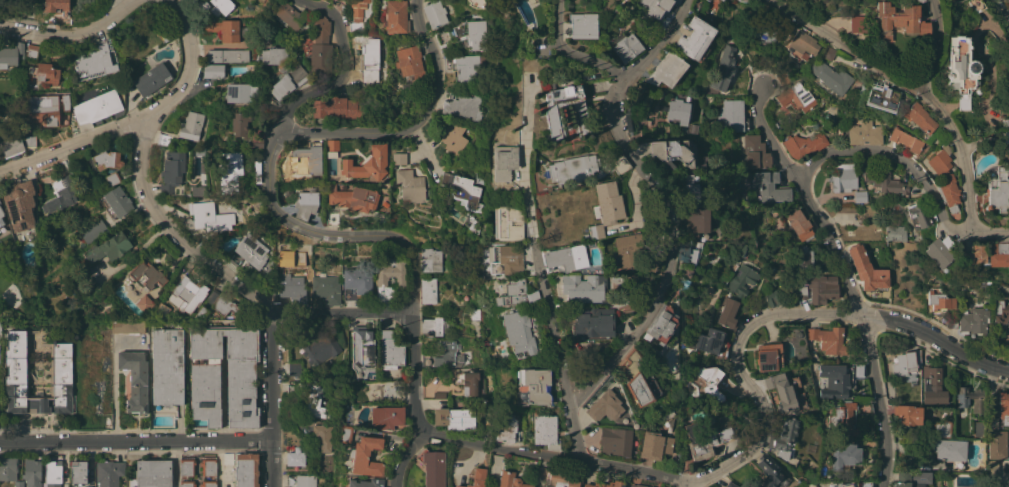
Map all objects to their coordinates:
building: (708, 0)
building: (722, 0)
building: (920, 0)
building: (1007, 0)
building: (189, 1)
building: (222, 5)
building: (976, 5)
road: (119, 6)
building: (655, 7)
building: (55, 10)
road: (1001, 10)
building: (435, 13)
building: (357, 14)
building: (291, 15)
building: (396, 16)
building: (899, 20)
building: (582, 25)
building: (855, 25)
building: (223, 29)
building: (457, 30)
building: (249, 32)
building: (477, 34)
road: (72, 35)
building: (695, 38)
building: (801, 44)
road: (935, 45)
building: (318, 46)
building: (626, 47)
building: (31, 51)
road: (571, 52)
building: (828, 53)
building: (228, 55)
building: (12, 56)
building: (95, 60)
building: (409, 63)
building: (464, 67)
building: (724, 68)
building: (213, 70)
building: (667, 70)
building: (961, 70)
building: (282, 71)
building: (44, 73)
building: (831, 77)
building: (783, 78)
building: (151, 79)
road: (915, 87)
building: (240, 92)
building: (796, 96)
building: (882, 97)
building: (462, 106)
building: (97, 107)
building: (45, 108)
building: (338, 108)
building: (677, 108)
building: (553, 115)
building: (732, 115)
building: (919, 118)
building: (1005, 123)
road: (413, 124)
building: (191, 125)
building: (244, 129)
building: (693, 129)
road: (766, 133)
building: (864, 133)
building: (1005, 136)
building: (453, 137)
building: (30, 140)
building: (164, 140)
building: (906, 140)
road: (74, 142)
building: (804, 144)
building: (11, 146)
building: (332, 146)
building: (674, 152)
building: (753, 153)
road: (899, 157)
building: (399, 158)
building: (306, 159)
building: (105, 160)
building: (504, 162)
building: (367, 163)
road: (523, 164)
building: (619, 164)
building: (71, 165)
building: (173, 168)
building: (229, 169)
building: (256, 170)
building: (570, 170)
building: (843, 177)
building: (944, 177)
building: (112, 178)
building: (882, 181)
building: (410, 185)
building: (769, 186)
building: (689, 188)
building: (998, 190)
building: (287, 191)
building: (462, 191)
building: (61, 196)
building: (860, 196)
building: (352, 198)
road: (662, 199)
building: (115, 202)
building: (305, 204)
building: (19, 205)
building: (605, 207)
building: (918, 213)
building: (1, 215)
building: (871, 216)
building: (205, 217)
building: (39, 218)
building: (331, 218)
building: (694, 222)
building: (508, 223)
building: (799, 225)
building: (474, 226)
road: (299, 227)
building: (93, 230)
road: (174, 233)
building: (895, 233)
road: (990, 233)
building: (874, 236)
building: (109, 248)
building: (628, 251)
building: (940, 251)
building: (248, 253)
building: (686, 254)
building: (997, 255)
building: (566, 257)
building: (973, 257)
building: (802, 258)
building: (431, 259)
building: (504, 259)
building: (867, 269)
building: (146, 275)
building: (389, 276)
building: (741, 280)
building: (357, 284)
building: (326, 288)
building: (583, 288)
building: (822, 288)
building: (293, 289)
building: (428, 290)
building: (802, 292)
building: (518, 293)
building: (188, 294)
building: (772, 297)
building: (939, 301)
building: (142, 303)
building: (223, 305)
building: (161, 310)
building: (146, 311)
building: (1000, 312)
building: (200, 313)
building: (728, 313)
building: (474, 314)
building: (954, 321)
building: (974, 321)
building: (591, 323)
road: (862, 324)
building: (434, 326)
building: (660, 326)
building: (0, 327)
building: (128, 327)
building: (519, 333)
road: (936, 338)
building: (703, 339)
building: (828, 339)
building: (95, 345)
building: (361, 347)
building: (321, 348)
building: (390, 350)
road: (562, 355)
building: (445, 356)
building: (769, 357)
building: (905, 363)
building: (167, 366)
building: (294, 369)
road: (741, 369)
building: (858, 370)
building: (18, 373)
road: (115, 377)
building: (135, 379)
building: (204, 379)
building: (58, 380)
building: (639, 380)
building: (835, 380)
building: (709, 382)
building: (469, 383)
building: (532, 386)
building: (932, 386)
building: (786, 392)
building: (439, 394)
road: (270, 400)
building: (315, 401)
building: (963, 401)
building: (353, 406)
building: (604, 406)
building: (1003, 407)
building: (908, 414)
building: (386, 417)
building: (454, 417)
building: (103, 419)
building: (842, 421)
building: (992, 423)
building: (978, 427)
building: (942, 428)
building: (506, 429)
building: (545, 431)
building: (345, 434)
building: (321, 436)
building: (784, 438)
building: (705, 440)
road: (134, 441)
building: (615, 441)
building: (871, 444)
building: (654, 445)
building: (996, 445)
building: (948, 449)
building: (844, 454)
building: (365, 456)
road: (559, 456)
building: (295, 457)
road: (402, 457)
building: (228, 458)
road: (171, 464)
building: (685, 466)
building: (186, 467)
building: (208, 467)
building: (1008, 467)
building: (8, 468)
building: (433, 468)
building: (245, 470)
building: (78, 472)
building: (32, 473)
building: (52, 473)
building: (108, 473)
building: (151, 473)
building: (770, 473)
building: (992, 473)
building: (476, 478)
building: (911, 479)
building: (510, 480)
building: (561, 480)
building: (300, 481)
building: (186, 483)
building: (208, 483)
building: (365, 483)
building: (18, 484)
building: (605, 484)
road: (693, 484)
building: (730, 484)
building: (851, 484)
building: (636, 485)
building: (345, 486)

